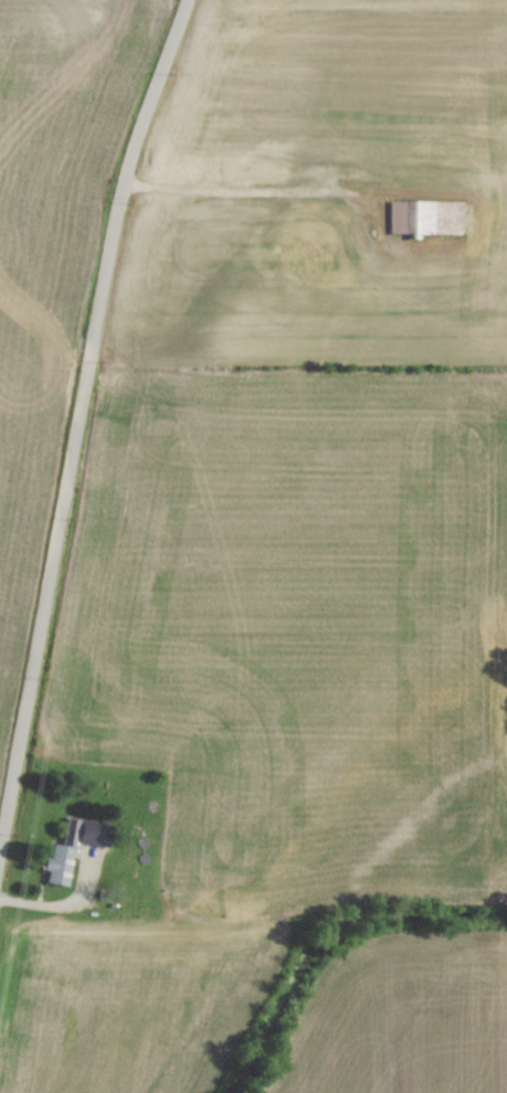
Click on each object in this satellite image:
road: (229, 193)
building: (433, 223)
road: (80, 420)
building: (59, 869)

